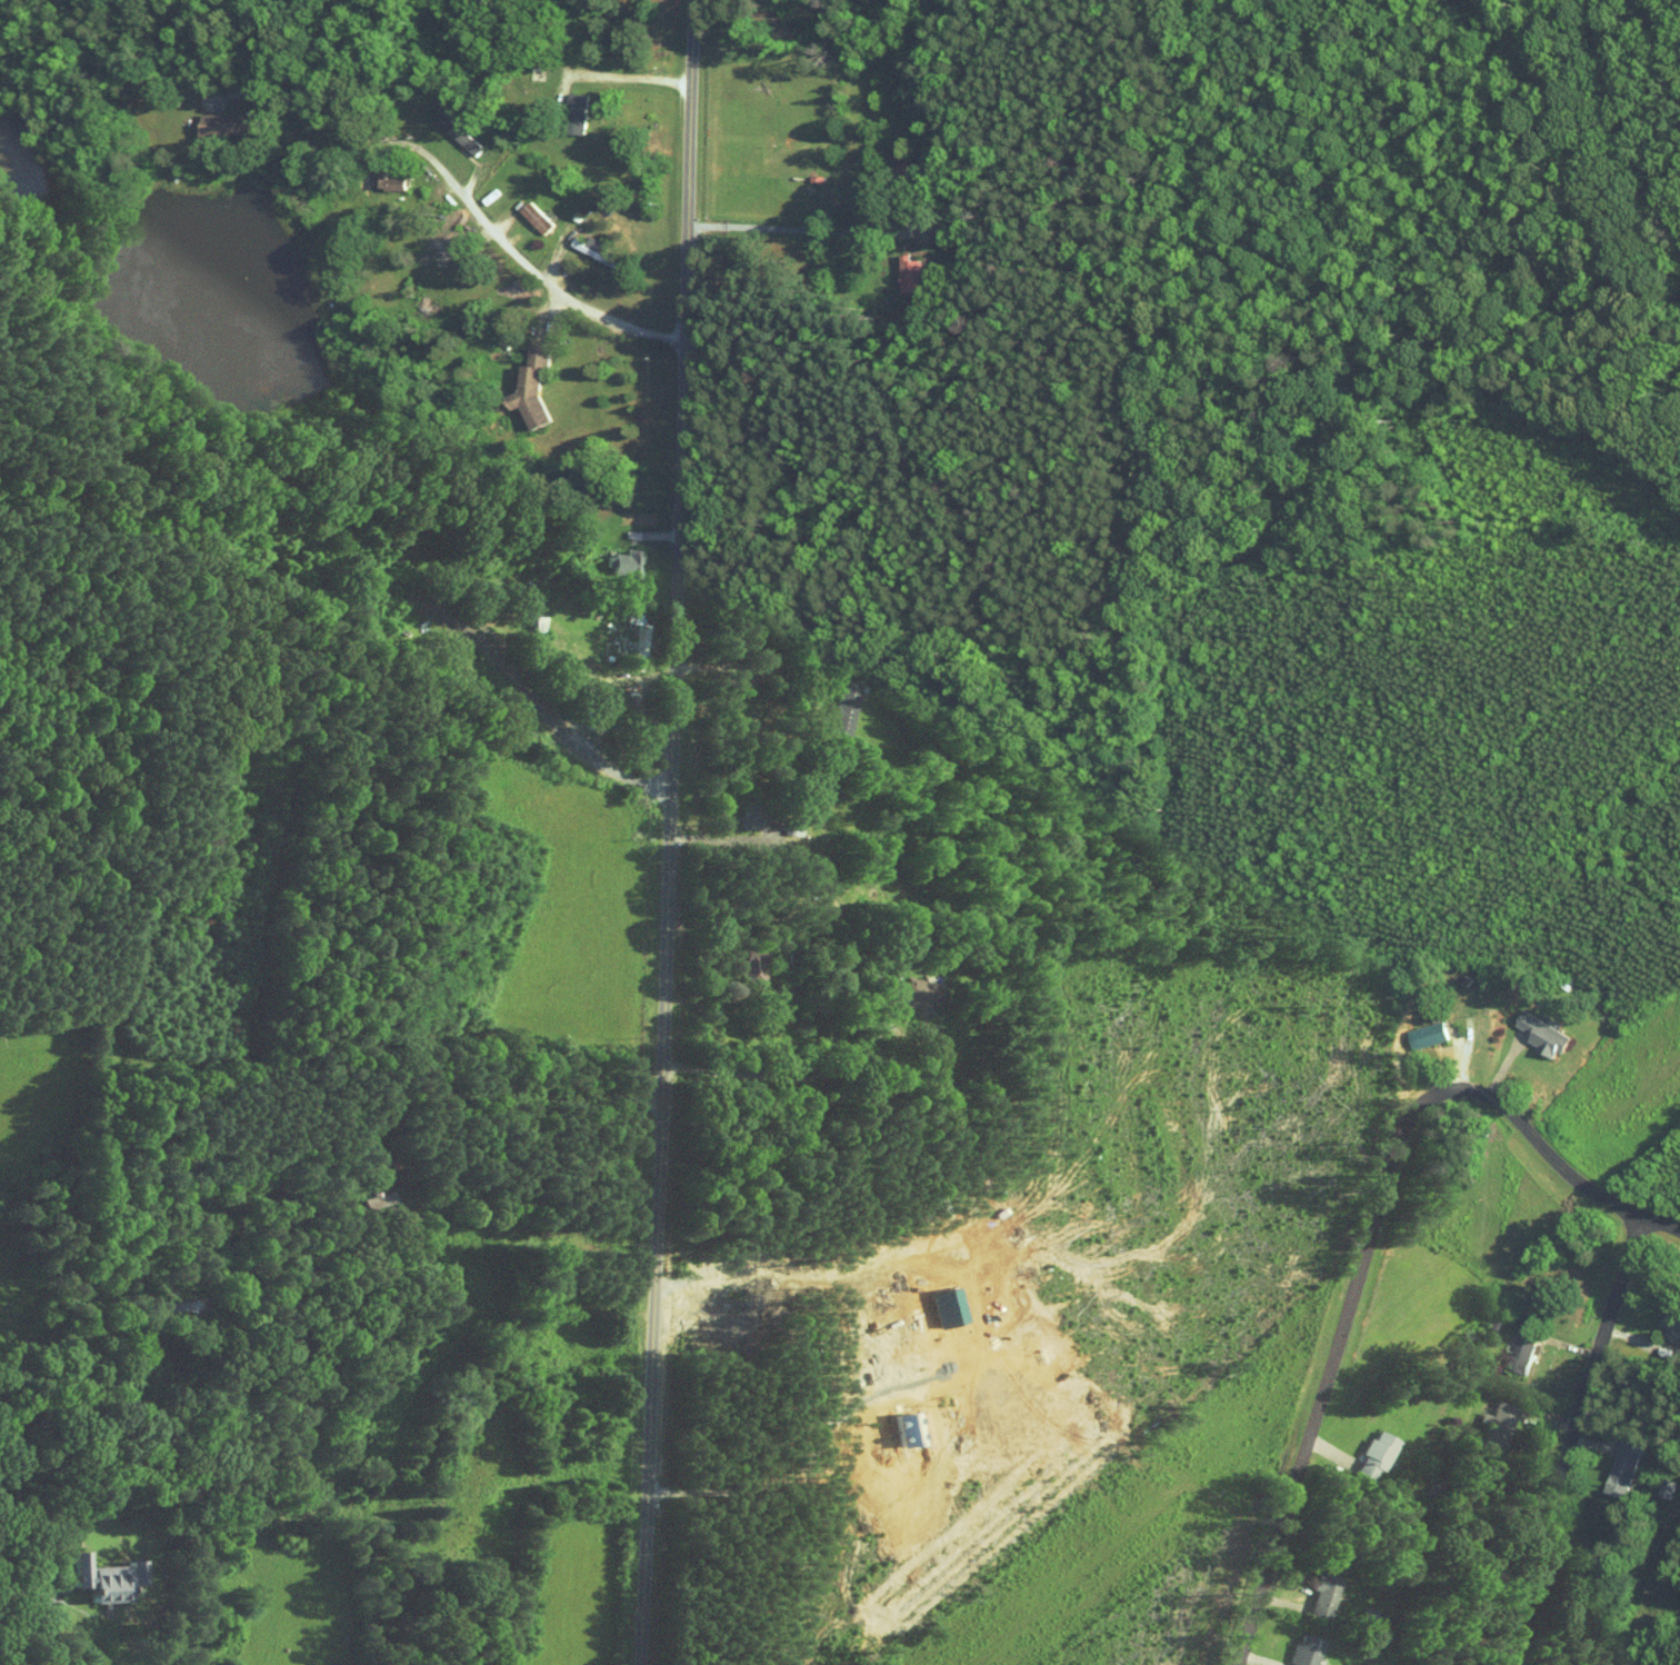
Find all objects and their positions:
building: (573, 113)
building: (220, 128)
building: (456, 133)
building: (388, 186)
road: (462, 196)
building: (533, 218)
road: (842, 231)
building: (530, 391)
building: (621, 561)
road: (747, 667)
road: (527, 697)
building: (841, 706)
building: (586, 711)
road: (664, 832)
building: (904, 996)
building: (1540, 1034)
building: (1428, 1035)
road: (787, 1076)
road: (494, 1094)
building: (379, 1202)
road: (1370, 1234)
building: (1670, 1324)
building: (1521, 1349)
building: (1497, 1425)
road: (1571, 1439)
building: (1371, 1456)
building: (1621, 1469)
building: (97, 1578)
building: (1321, 1593)
building: (1303, 1651)
road: (3, 1652)

